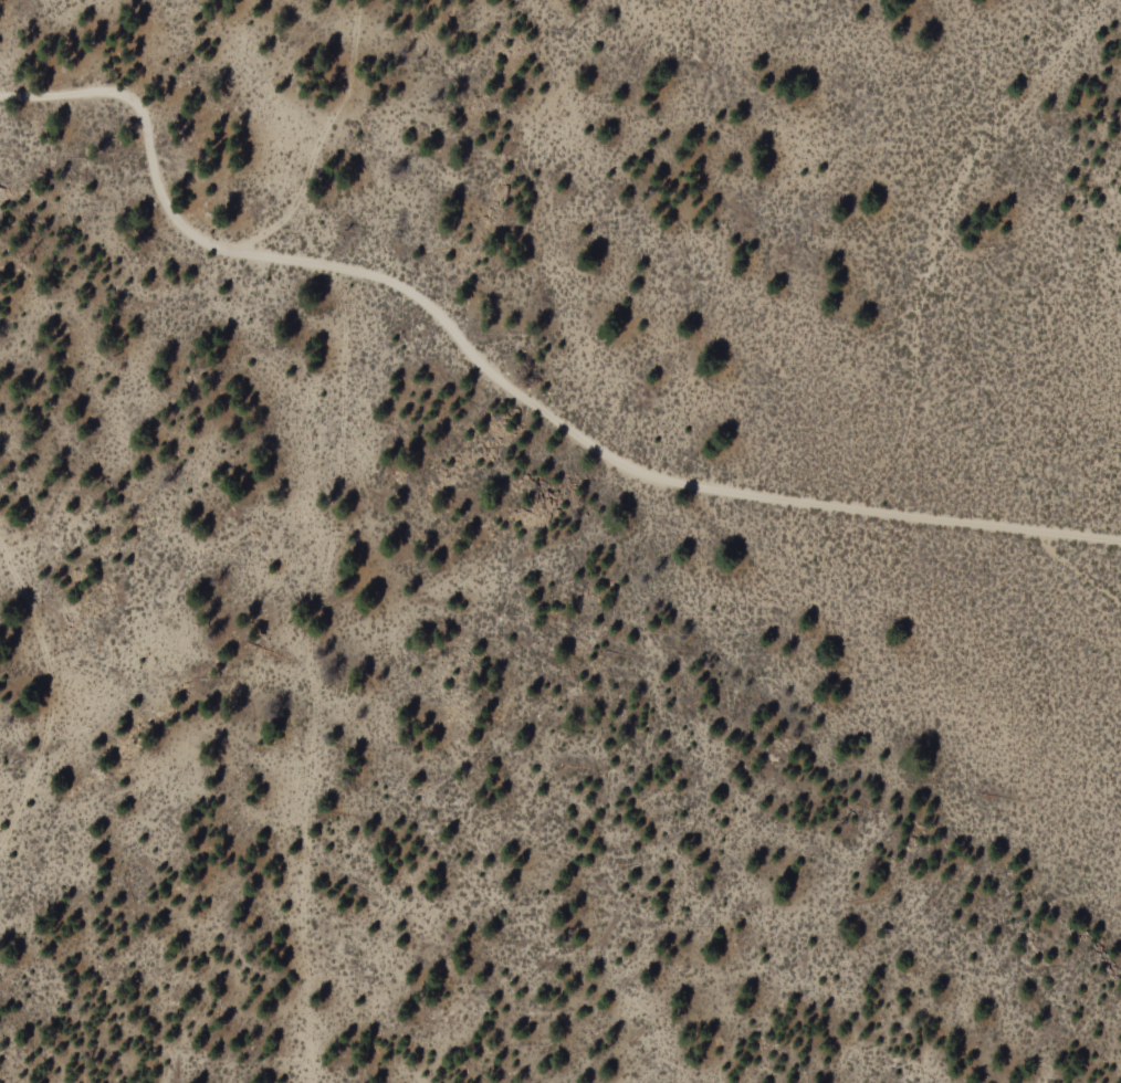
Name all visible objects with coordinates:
road: (312, 132)
road: (926, 315)
road: (506, 386)
road: (913, 442)
road: (316, 676)
road: (54, 696)

